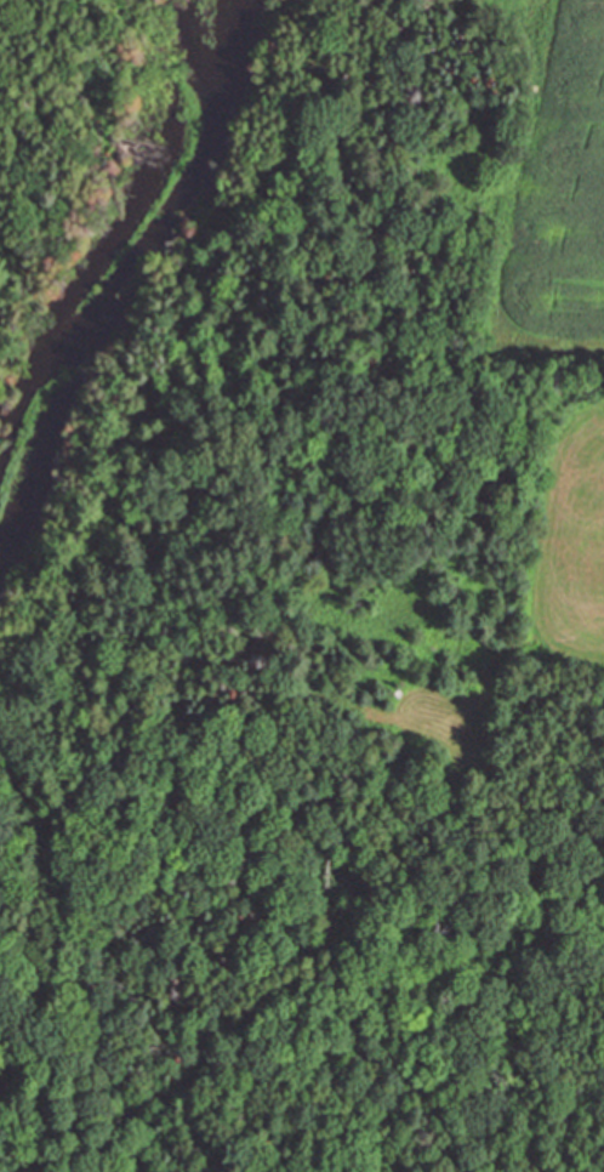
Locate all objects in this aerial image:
river: (163, 237)

